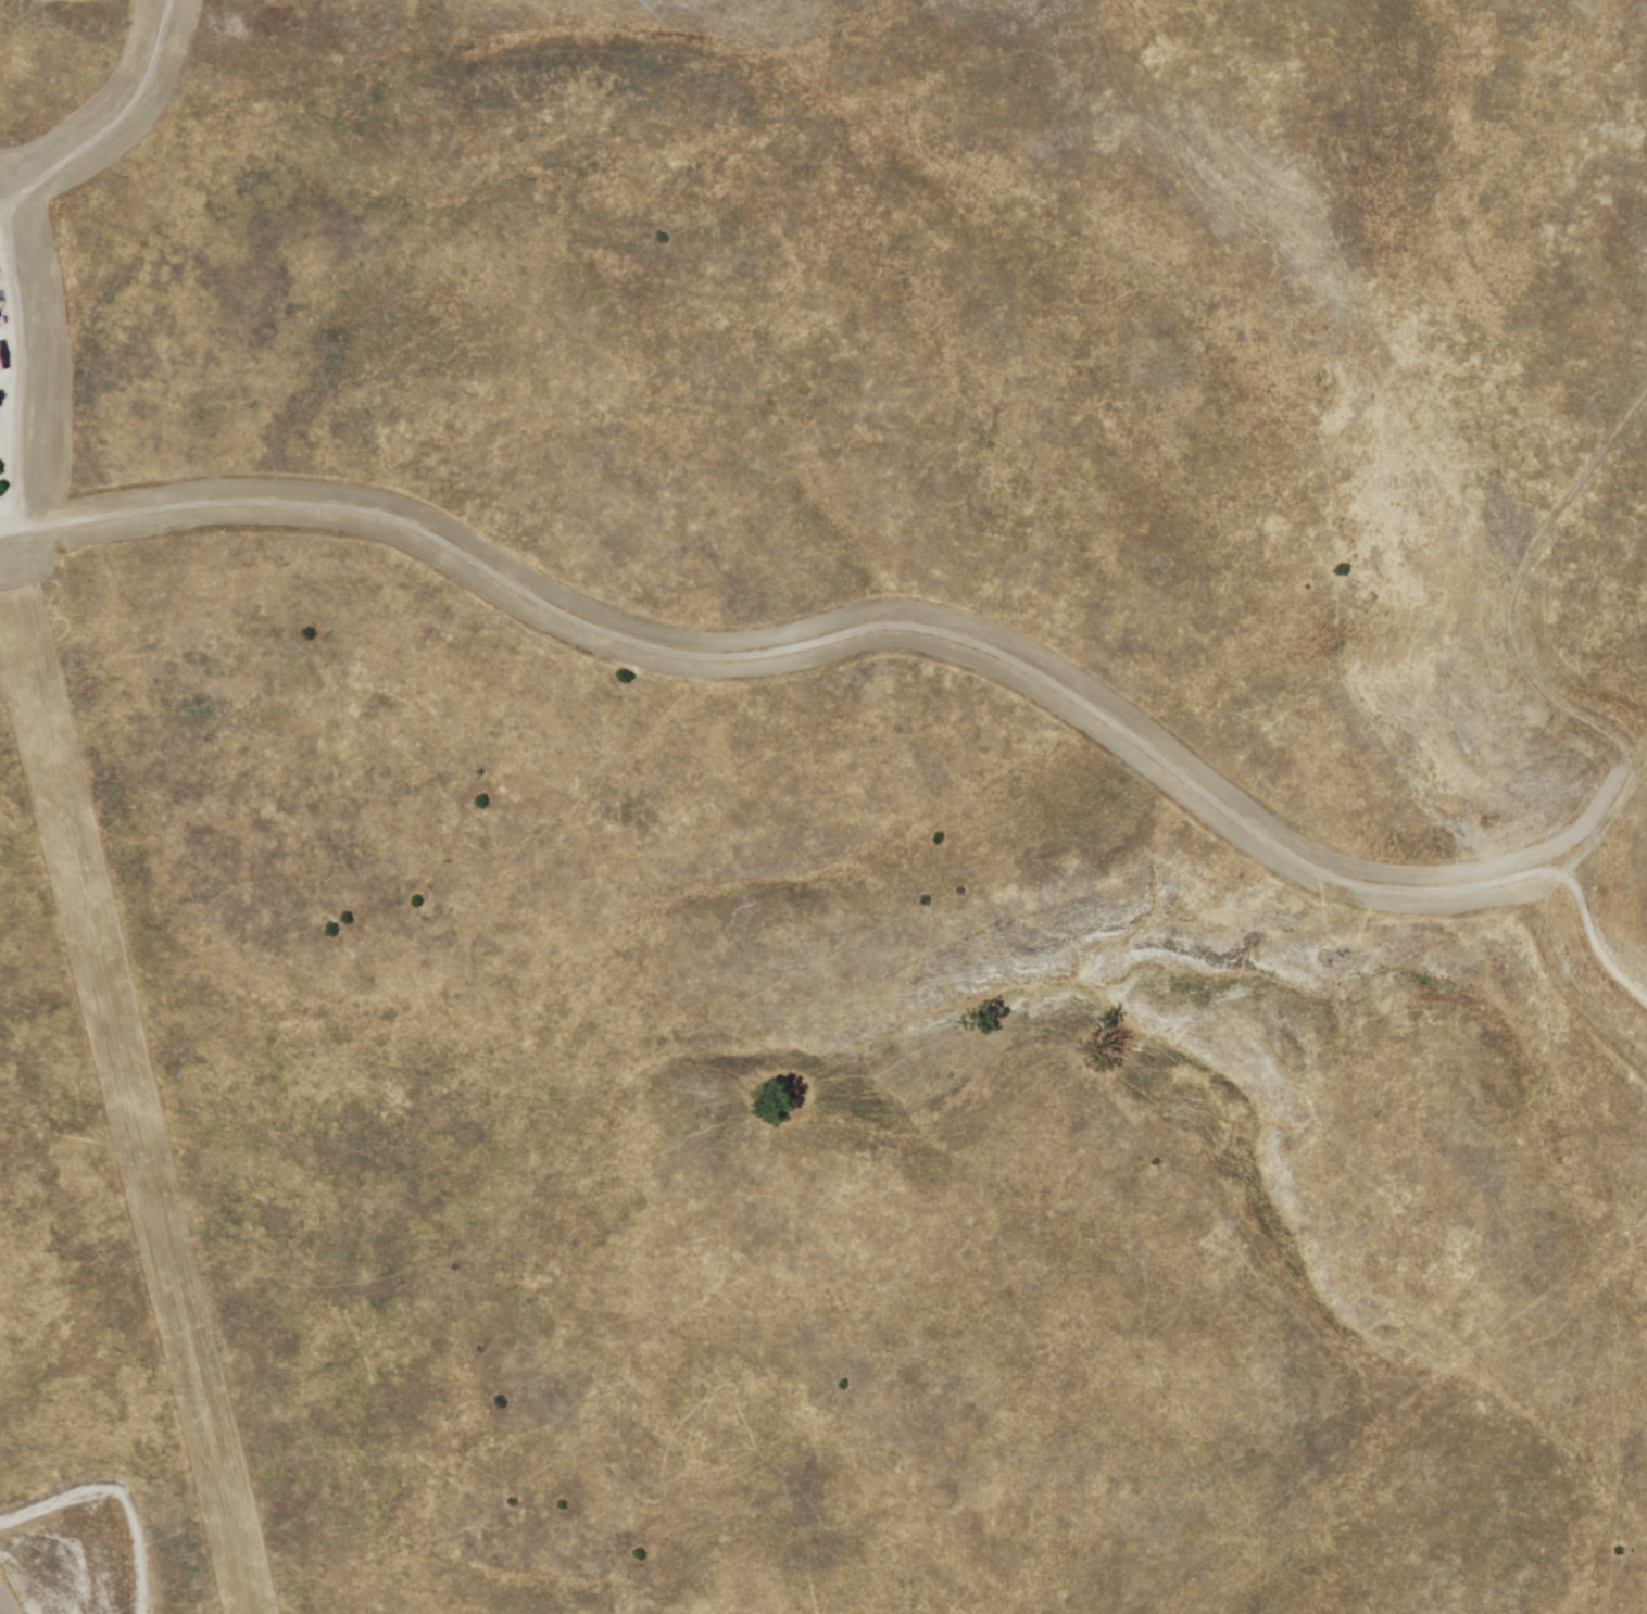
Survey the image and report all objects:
building: (0, 326)
building: (3, 363)
road: (876, 623)
road: (1532, 656)

